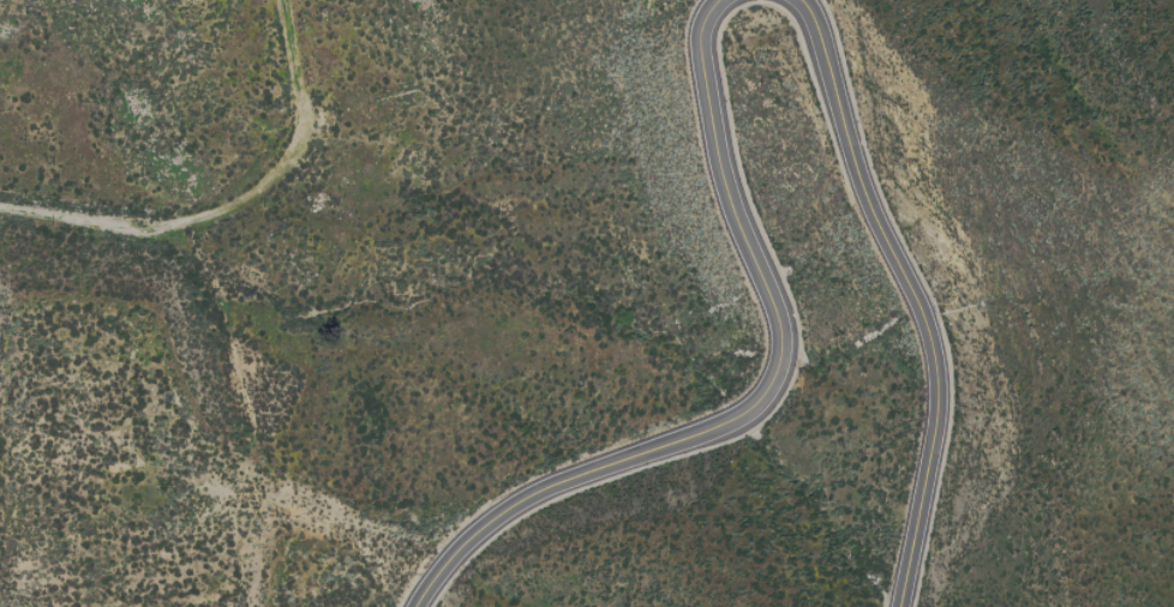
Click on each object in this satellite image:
road: (914, 295)
road: (761, 393)

